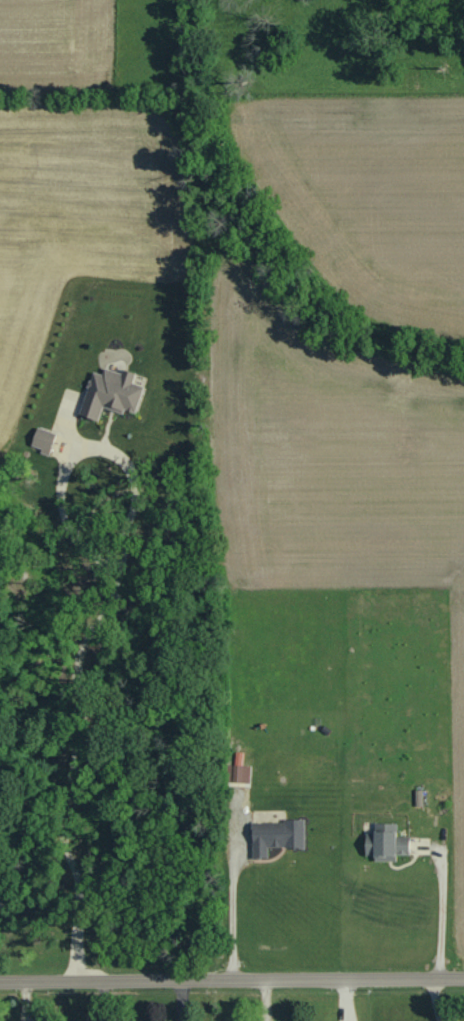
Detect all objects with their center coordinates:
building: (112, 393)
building: (44, 440)
road: (118, 591)
building: (278, 836)
building: (389, 844)
road: (231, 910)
road: (440, 914)
road: (232, 978)

